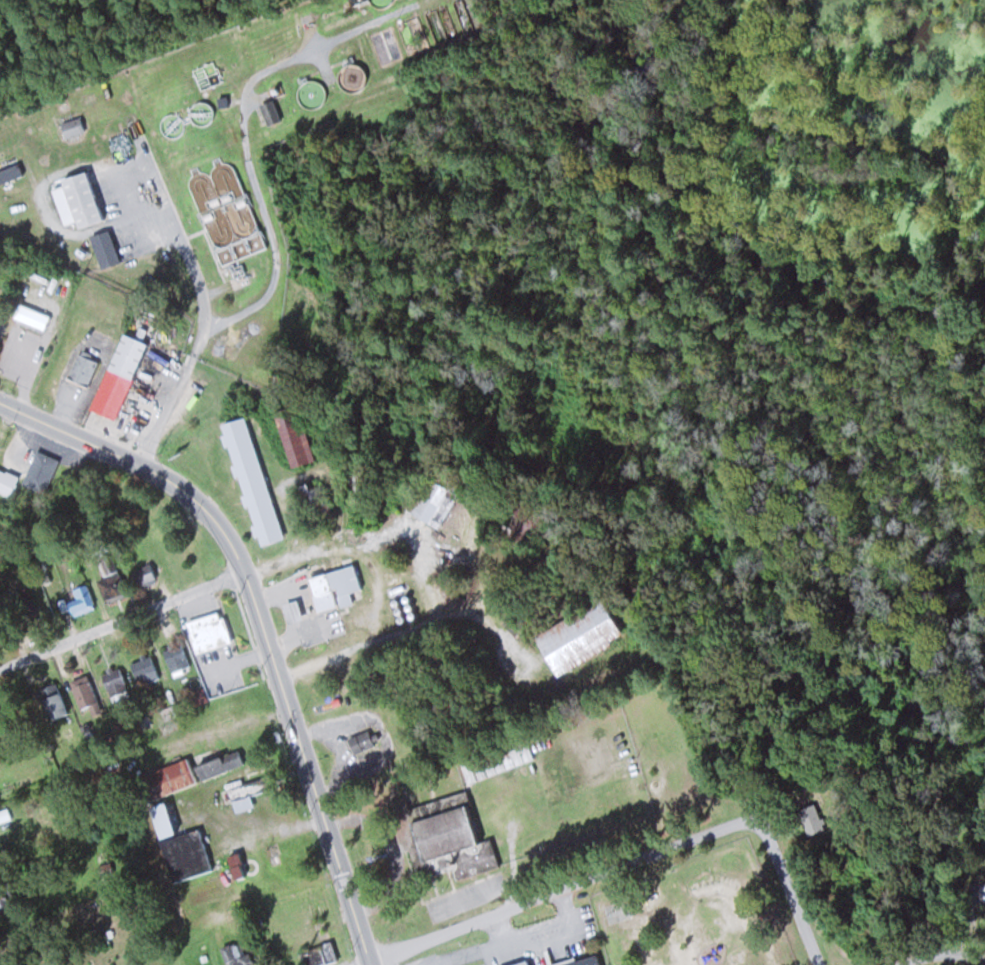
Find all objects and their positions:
building: (267, 112)
building: (71, 126)
road: (247, 141)
wastewater plant: (214, 148)
building: (76, 200)
building: (232, 218)
building: (104, 249)
road: (198, 289)
building: (81, 369)
building: (117, 376)
building: (294, 438)
building: (39, 471)
building: (7, 481)
building: (251, 481)
building: (315, 500)
building: (143, 575)
building: (113, 587)
building: (333, 587)
building: (80, 600)
building: (26, 610)
building: (290, 611)
road: (123, 619)
road: (262, 620)
building: (206, 633)
building: (578, 637)
building: (175, 658)
building: (144, 670)
building: (113, 679)
building: (84, 694)
building: (50, 701)
building: (359, 742)
building: (496, 759)
building: (620, 768)
building: (163, 781)
building: (625, 790)
building: (240, 799)
building: (811, 817)
building: (160, 820)
building: (442, 836)
building: (233, 867)
road: (573, 886)
building: (5, 899)
road: (800, 906)
building: (317, 955)
road: (933, 958)
building: (581, 961)
building: (524, 963)

